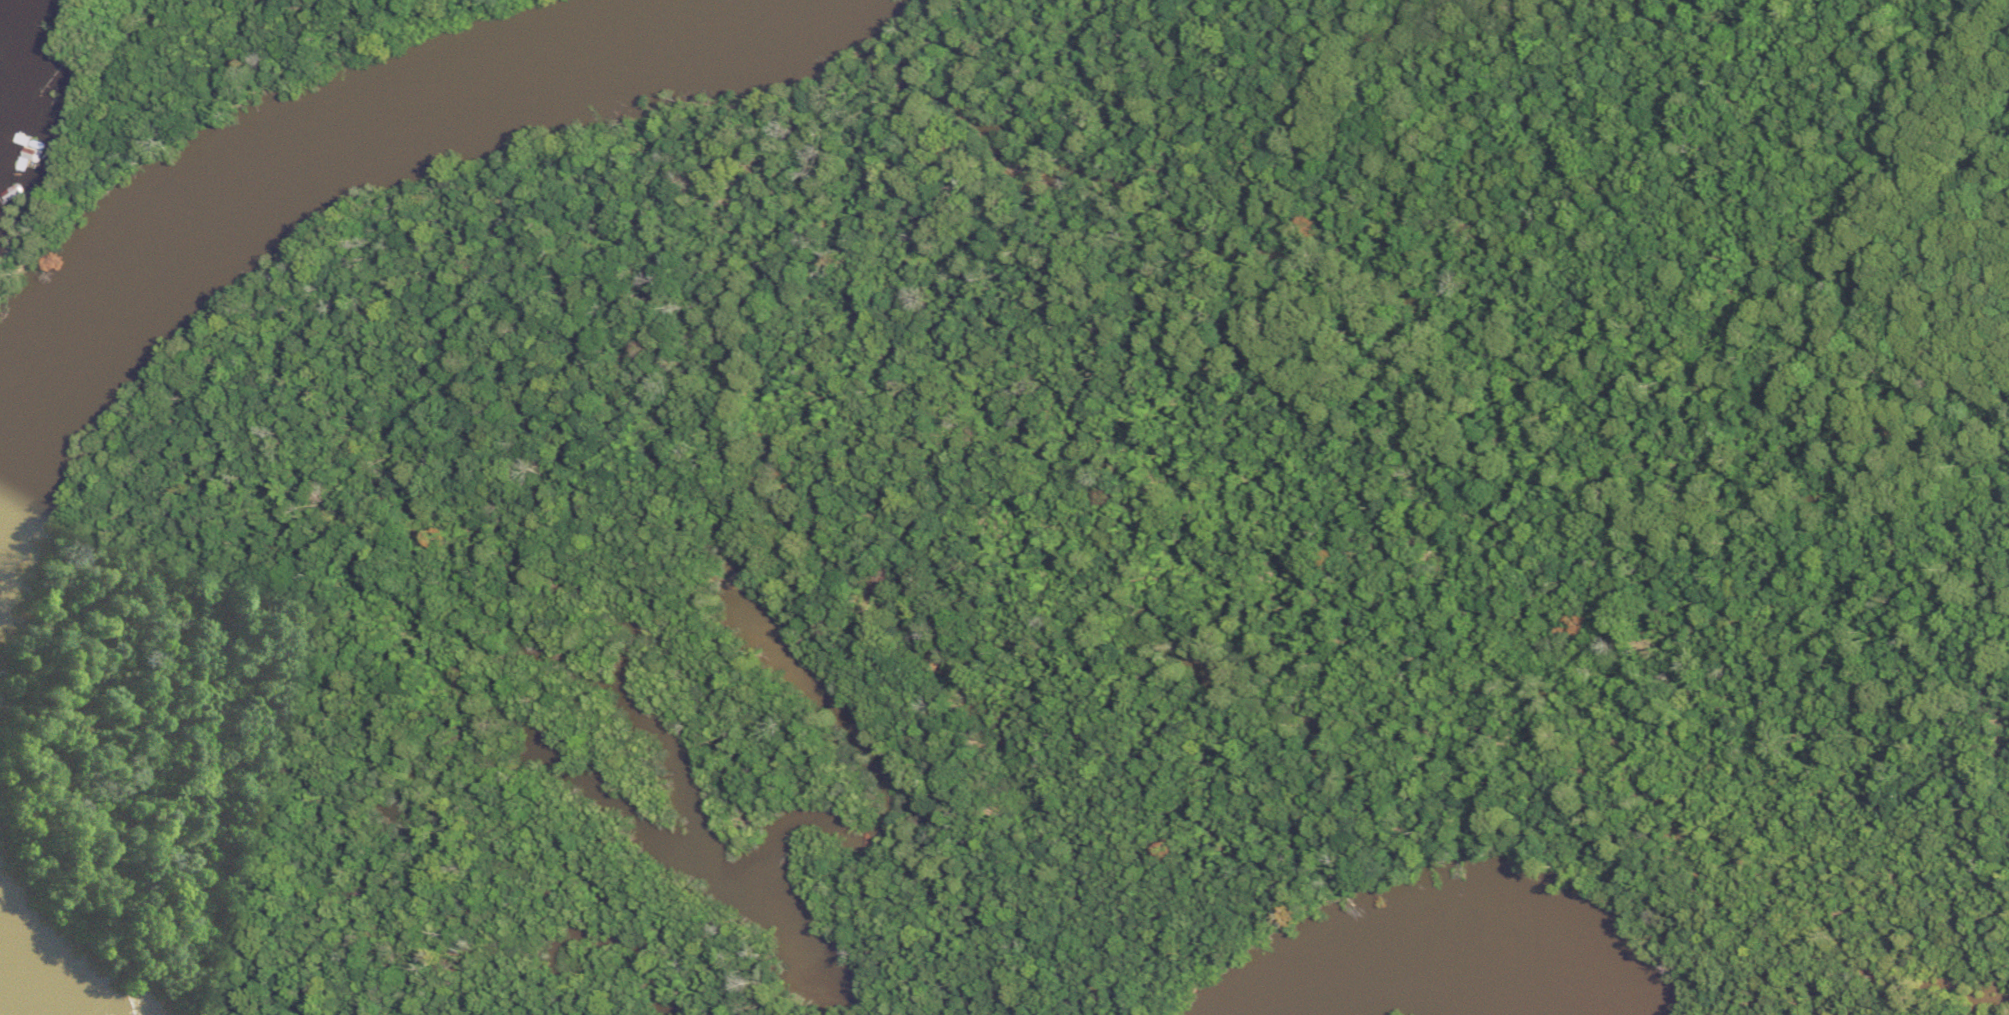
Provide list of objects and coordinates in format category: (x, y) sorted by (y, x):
river: (313, 144)
river: (1409, 960)
dam: (154, 970)
dam: (118, 996)

